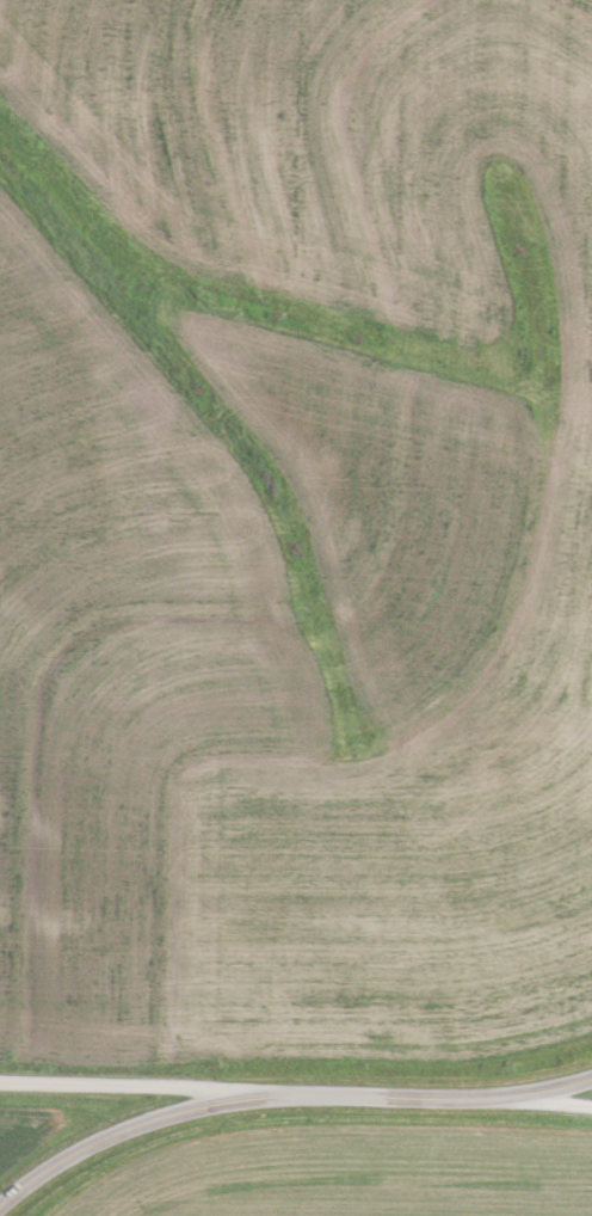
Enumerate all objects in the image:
road: (158, 1085)
road: (284, 1094)
road: (541, 1101)

